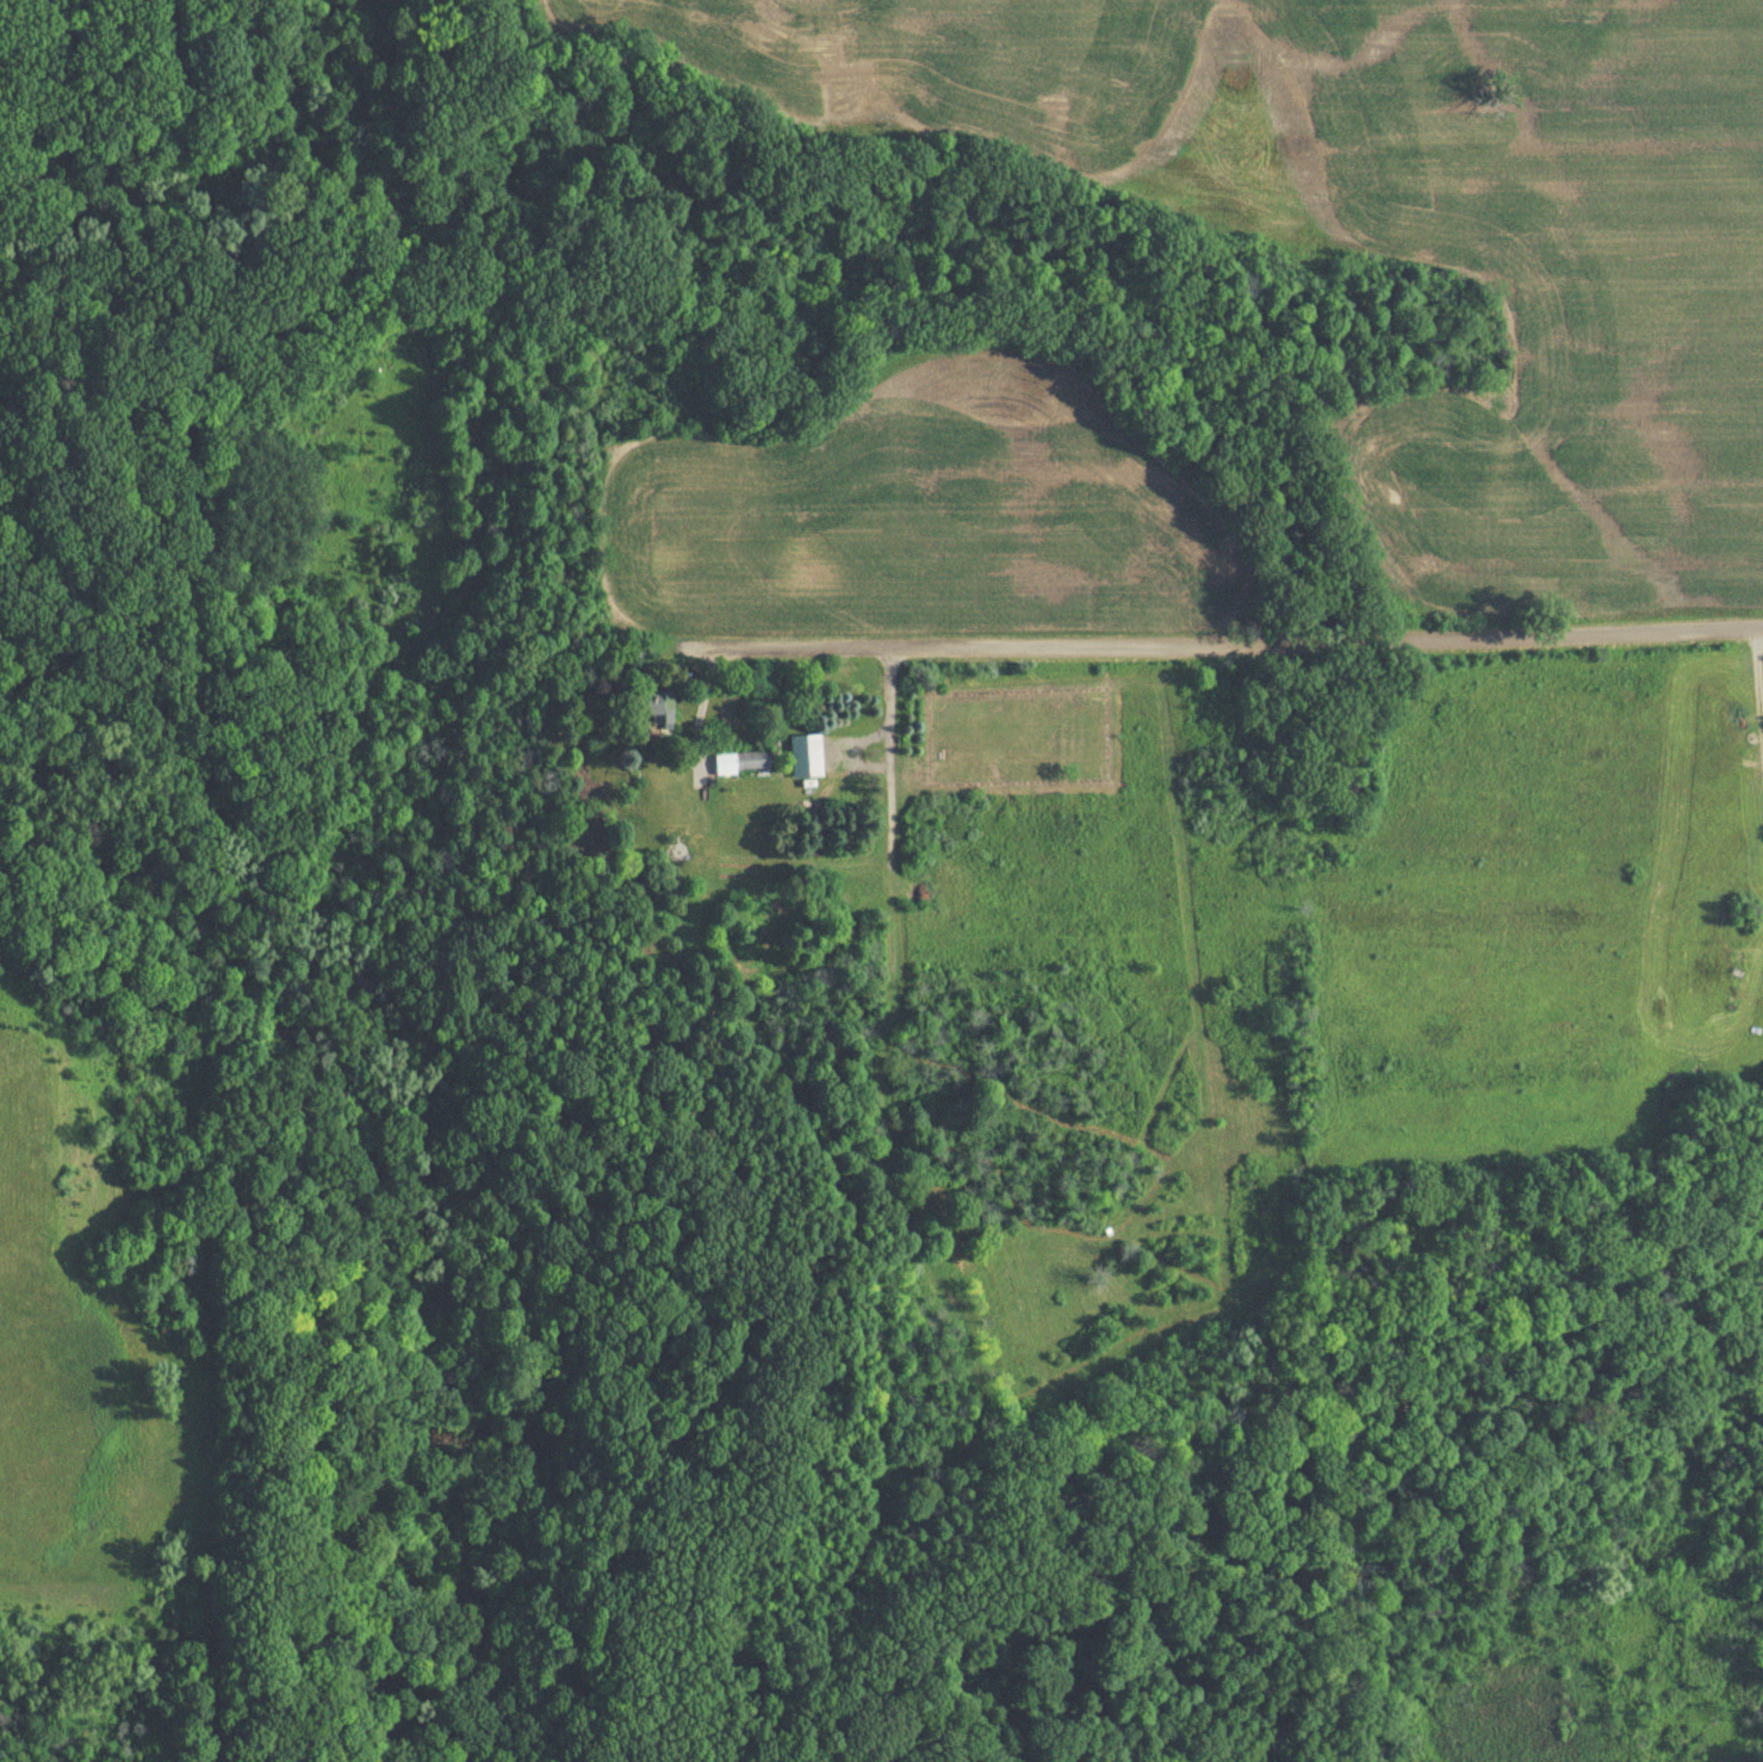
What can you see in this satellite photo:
road: (869, 646)
building: (659, 706)
road: (890, 712)
building: (741, 762)

